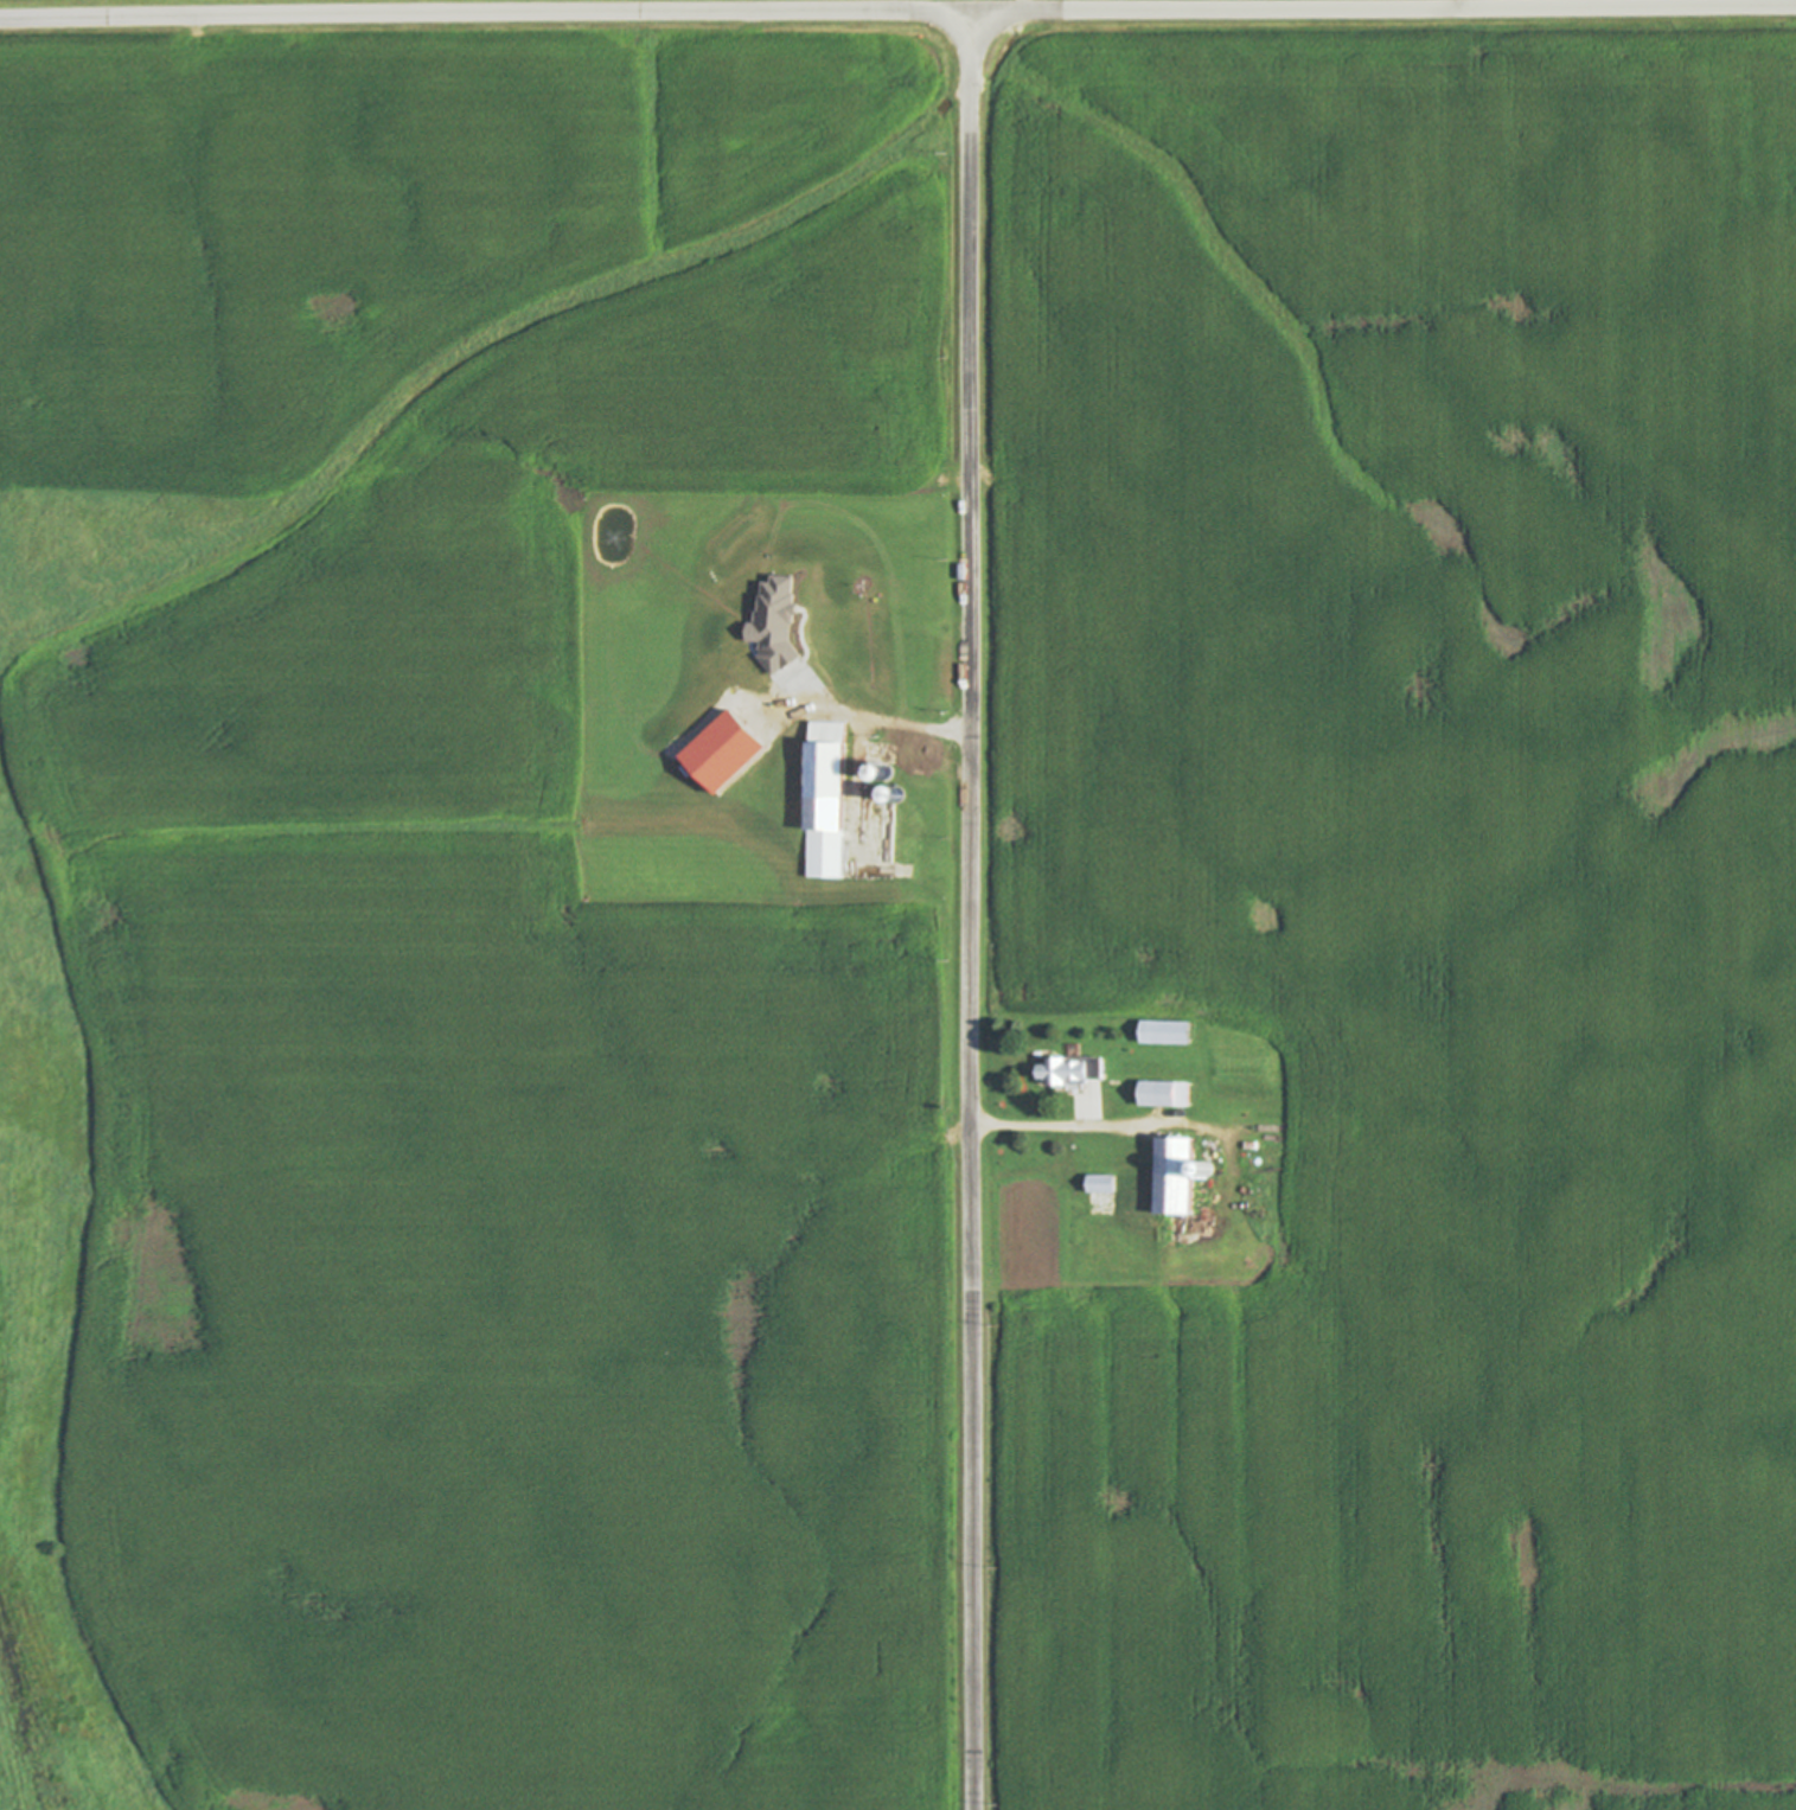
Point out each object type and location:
road: (897, 12)
building: (772, 626)
building: (851, 670)
building: (890, 673)
building: (771, 683)
road: (876, 722)
building: (889, 737)
building: (795, 747)
building: (734, 750)
building: (886, 772)
building: (864, 773)
building: (897, 793)
building: (824, 798)
road: (971, 910)
building: (1164, 1031)
building: (1069, 1070)
building: (1163, 1093)
road: (1082, 1124)
building: (1207, 1169)
building: (1171, 1175)
building: (1100, 1183)

